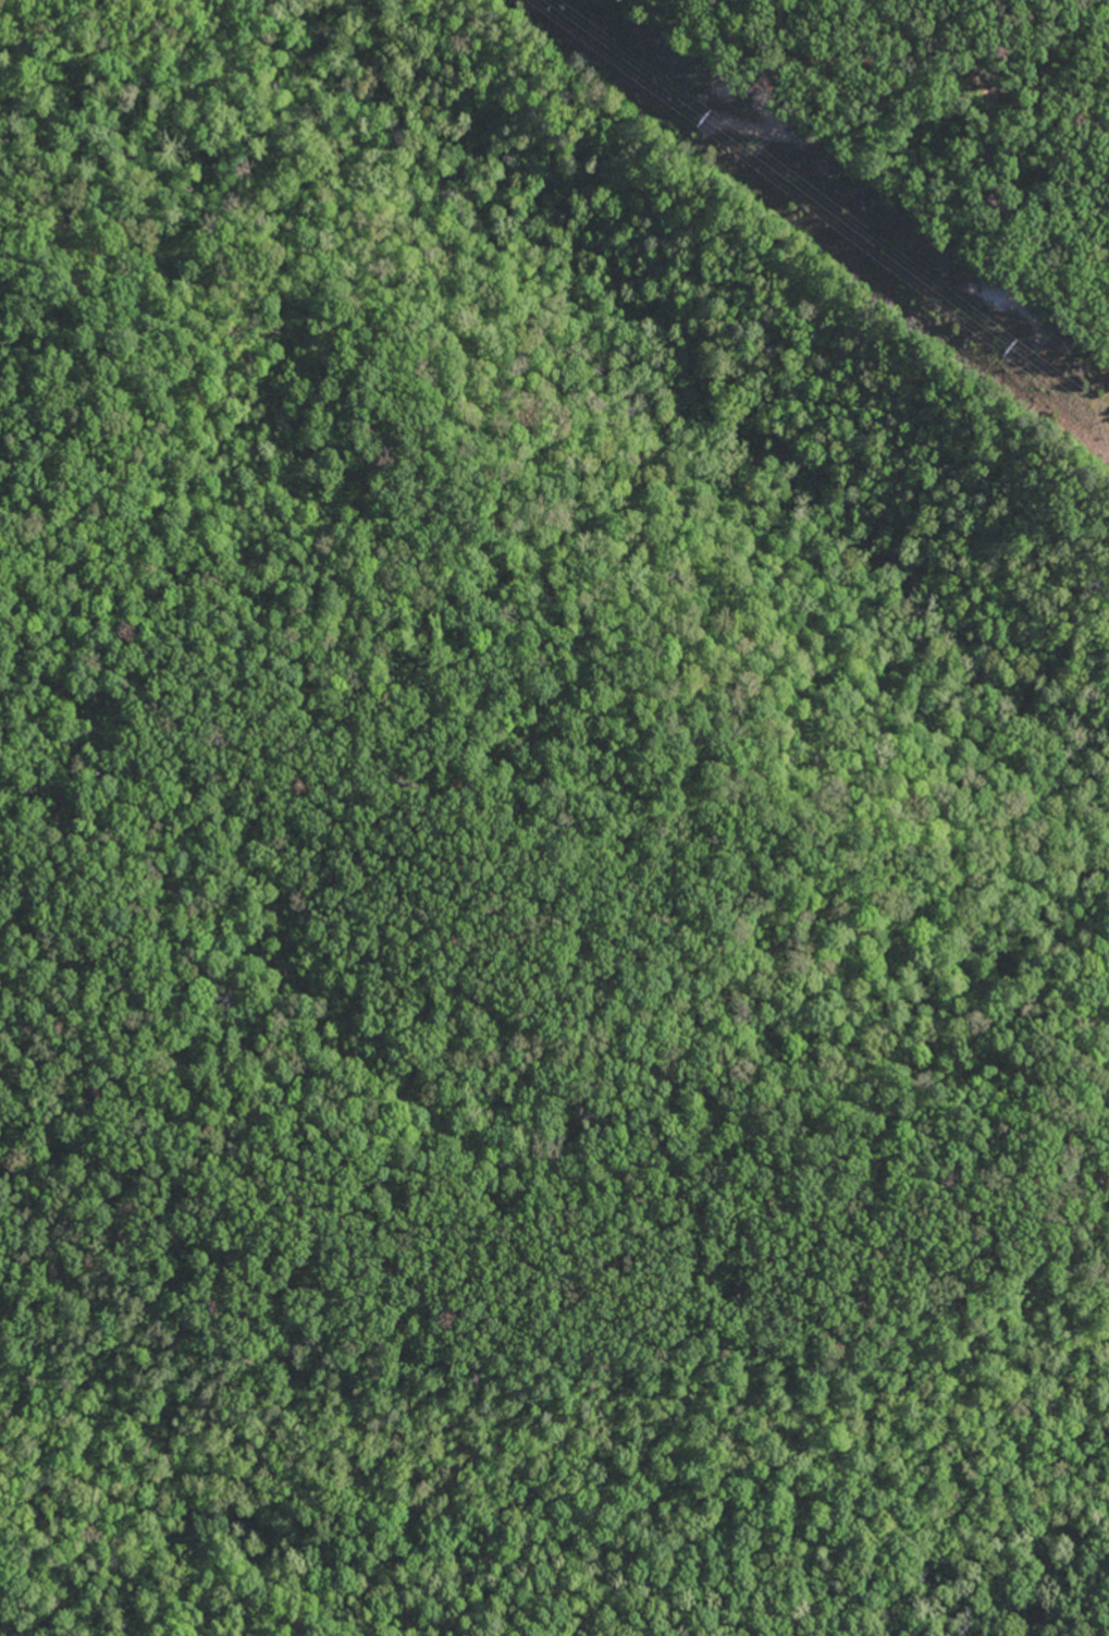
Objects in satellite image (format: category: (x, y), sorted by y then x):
power tower: (703, 113)
power tower: (1000, 335)

